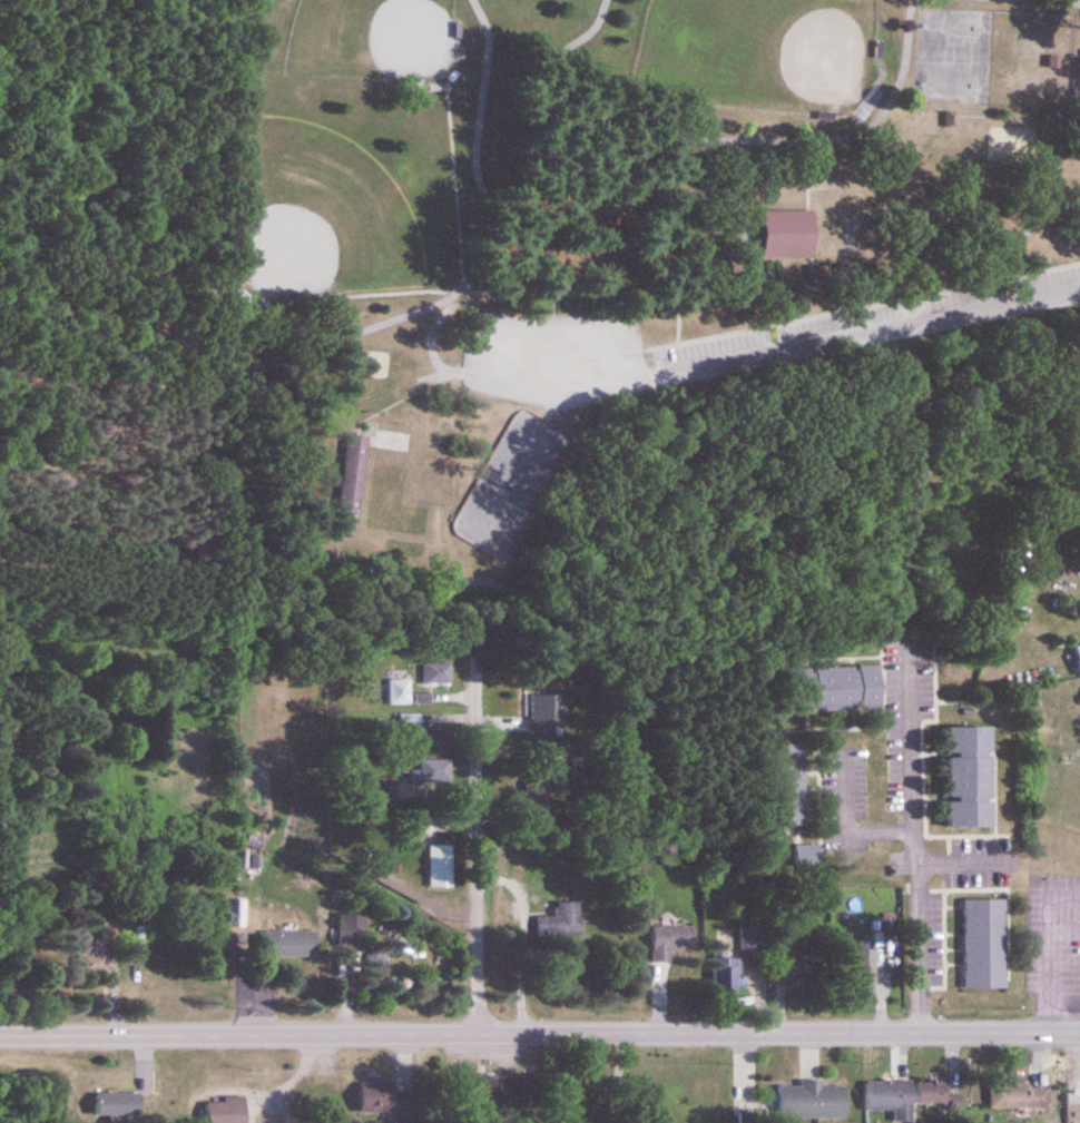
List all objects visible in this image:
park: (372, 40)
park: (769, 50)
park: (321, 215)
building: (788, 235)
park: (593, 246)
road: (852, 332)
road: (484, 377)
building: (539, 441)
building: (353, 475)
building: (1078, 654)
building: (436, 673)
building: (833, 689)
building: (399, 692)
building: (547, 713)
building: (409, 722)
building: (438, 739)
building: (970, 778)
building: (414, 781)
building: (784, 785)
building: (537, 797)
road: (847, 825)
road: (919, 840)
road: (477, 843)
building: (805, 856)
road: (962, 860)
building: (441, 866)
building: (561, 922)
building: (352, 930)
road: (522, 937)
building: (670, 942)
building: (752, 942)
building: (291, 944)
building: (984, 944)
building: (100, 956)
building: (864, 972)
building: (796, 973)
building: (725, 976)
road: (539, 1032)
road: (619, 1078)
building: (502, 1090)
building: (936, 1094)
building: (1019, 1096)
building: (390, 1100)
building: (890, 1100)
building: (812, 1102)
building: (117, 1105)
building: (226, 1111)

